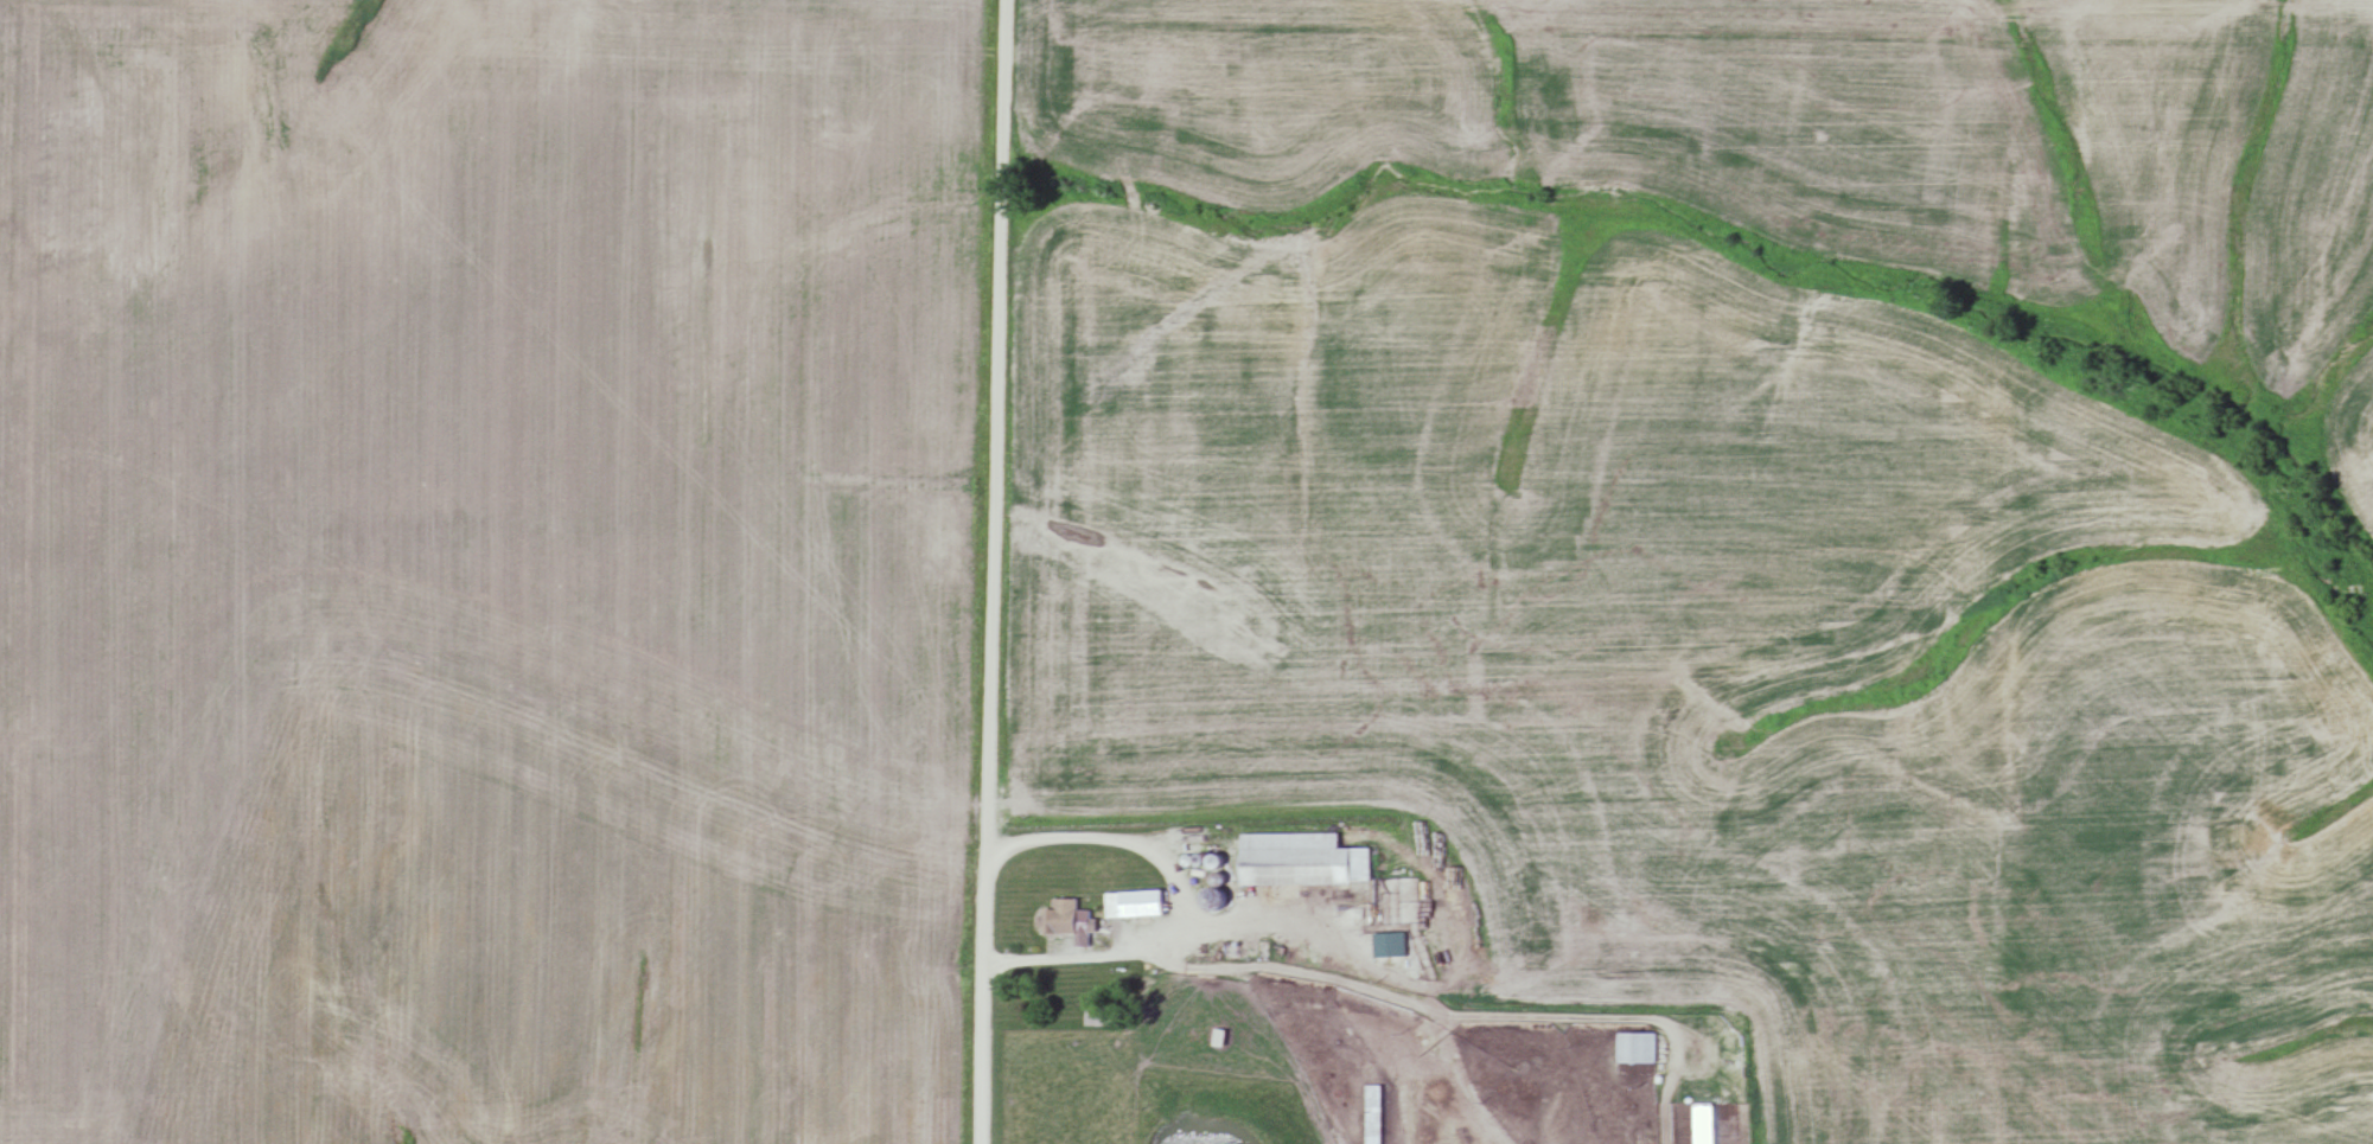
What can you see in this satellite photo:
road: (980, 571)
building: (1304, 859)
building: (1136, 903)
building: (1069, 918)
building: (1639, 1047)
building: (1376, 1113)

